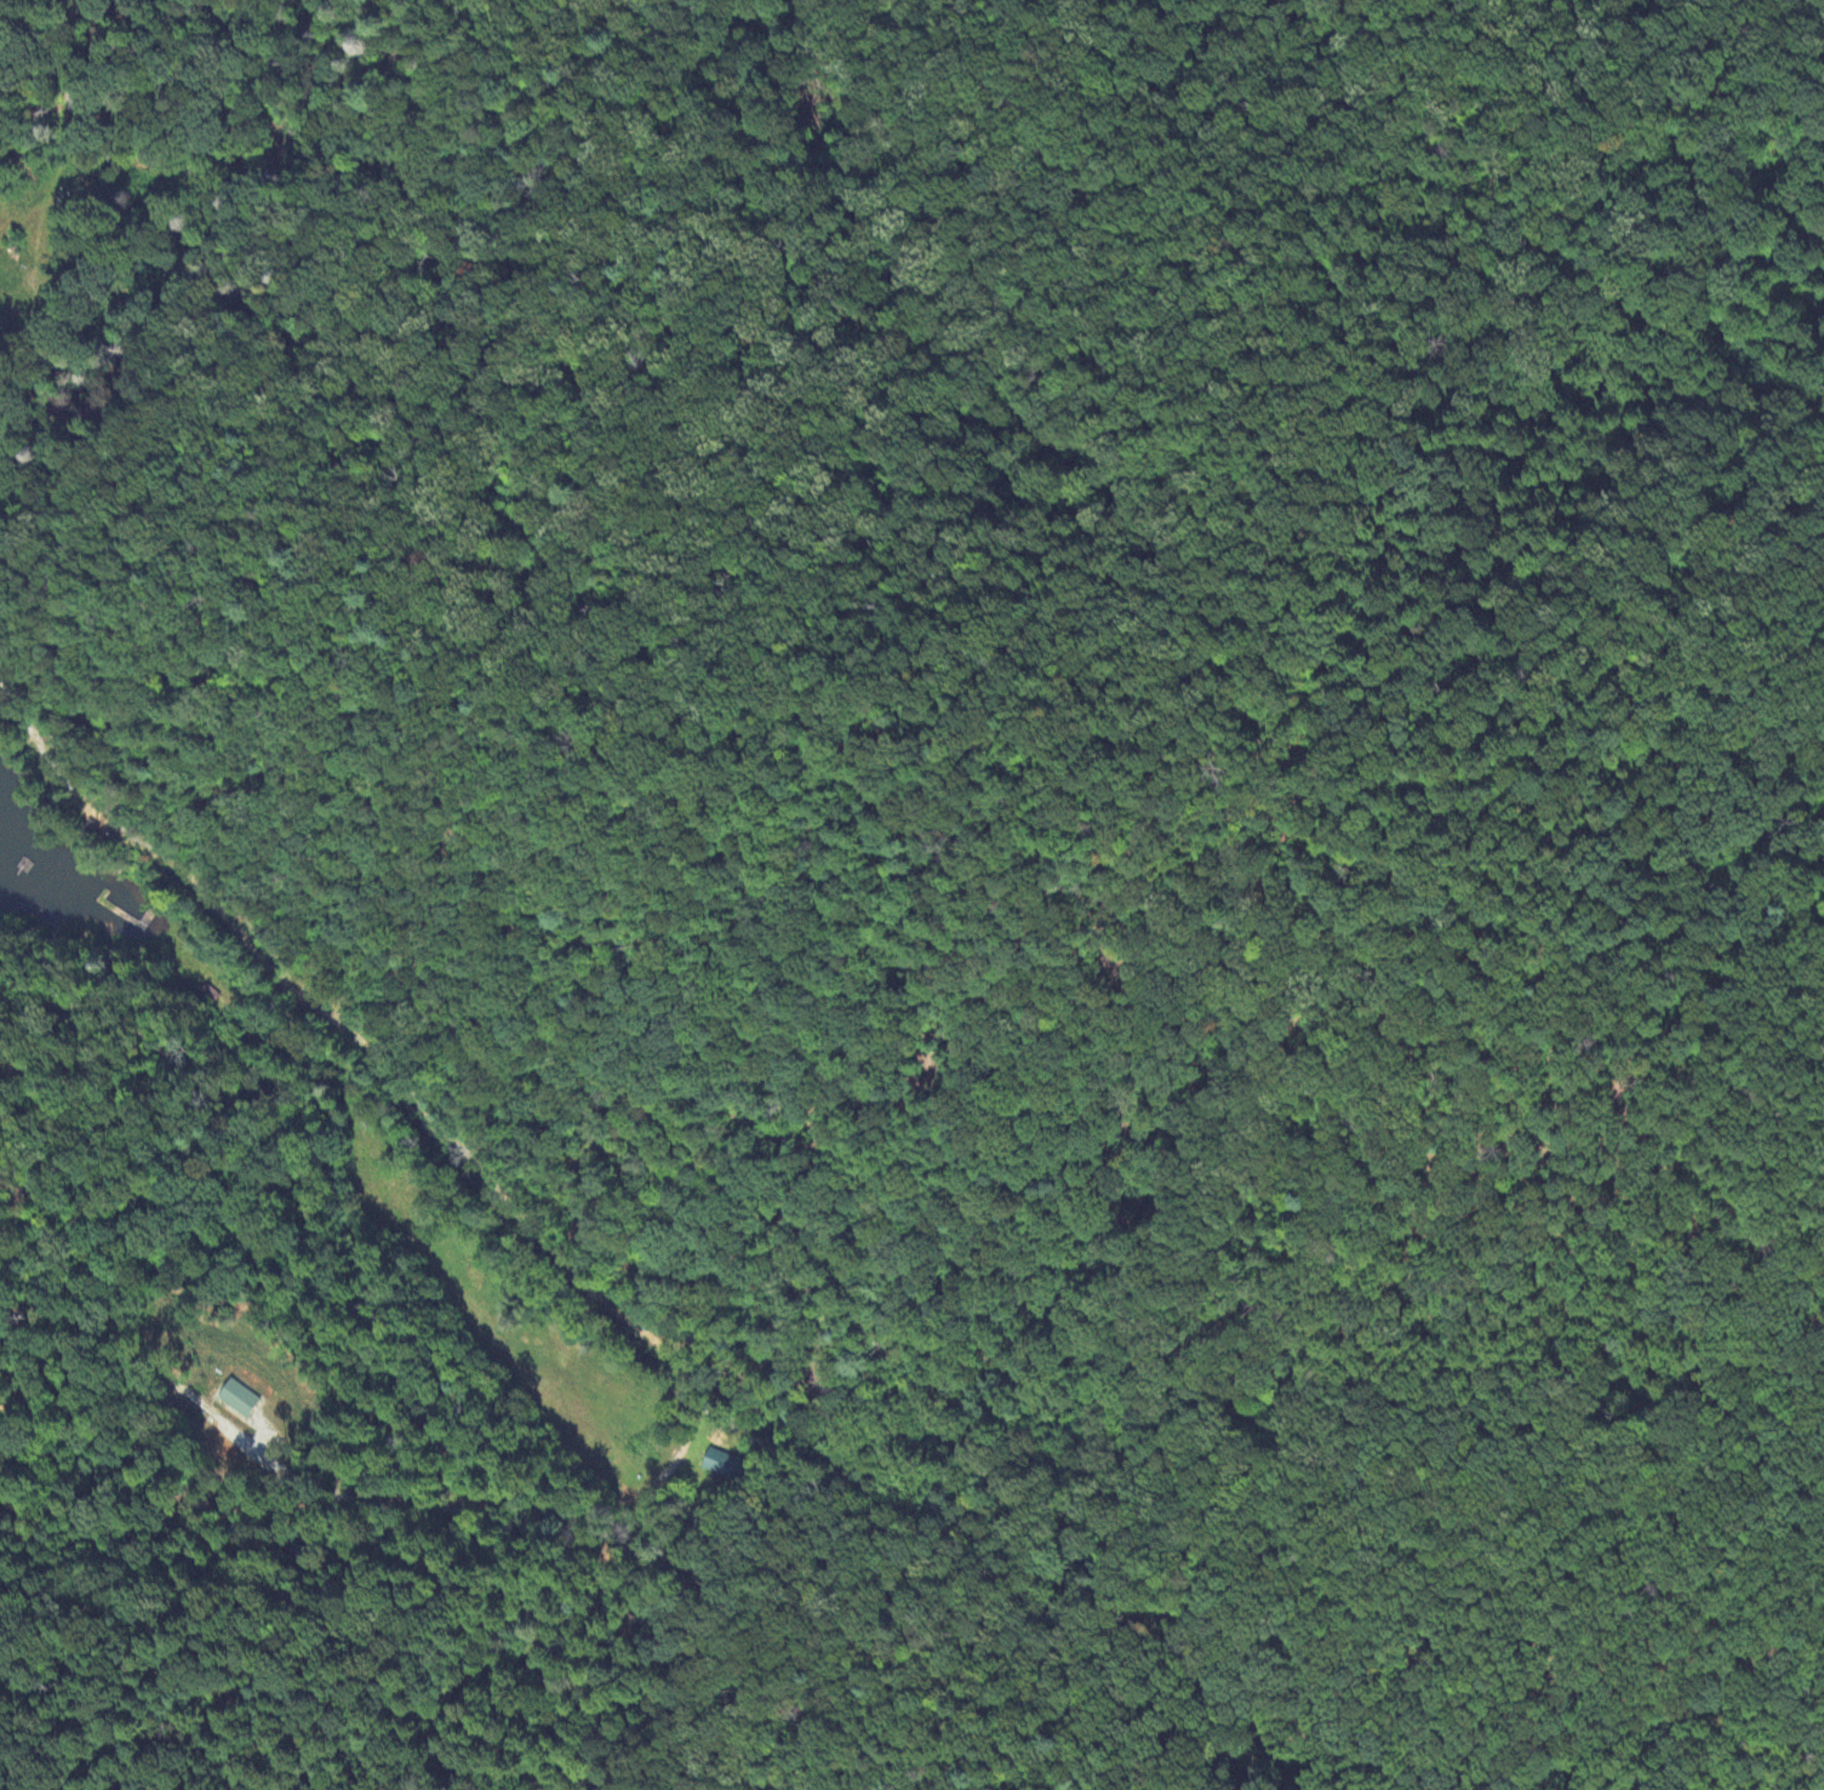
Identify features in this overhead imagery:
building: (7, 1029)
road: (359, 1043)
building: (238, 1401)
building: (716, 1464)
road: (318, 1487)

